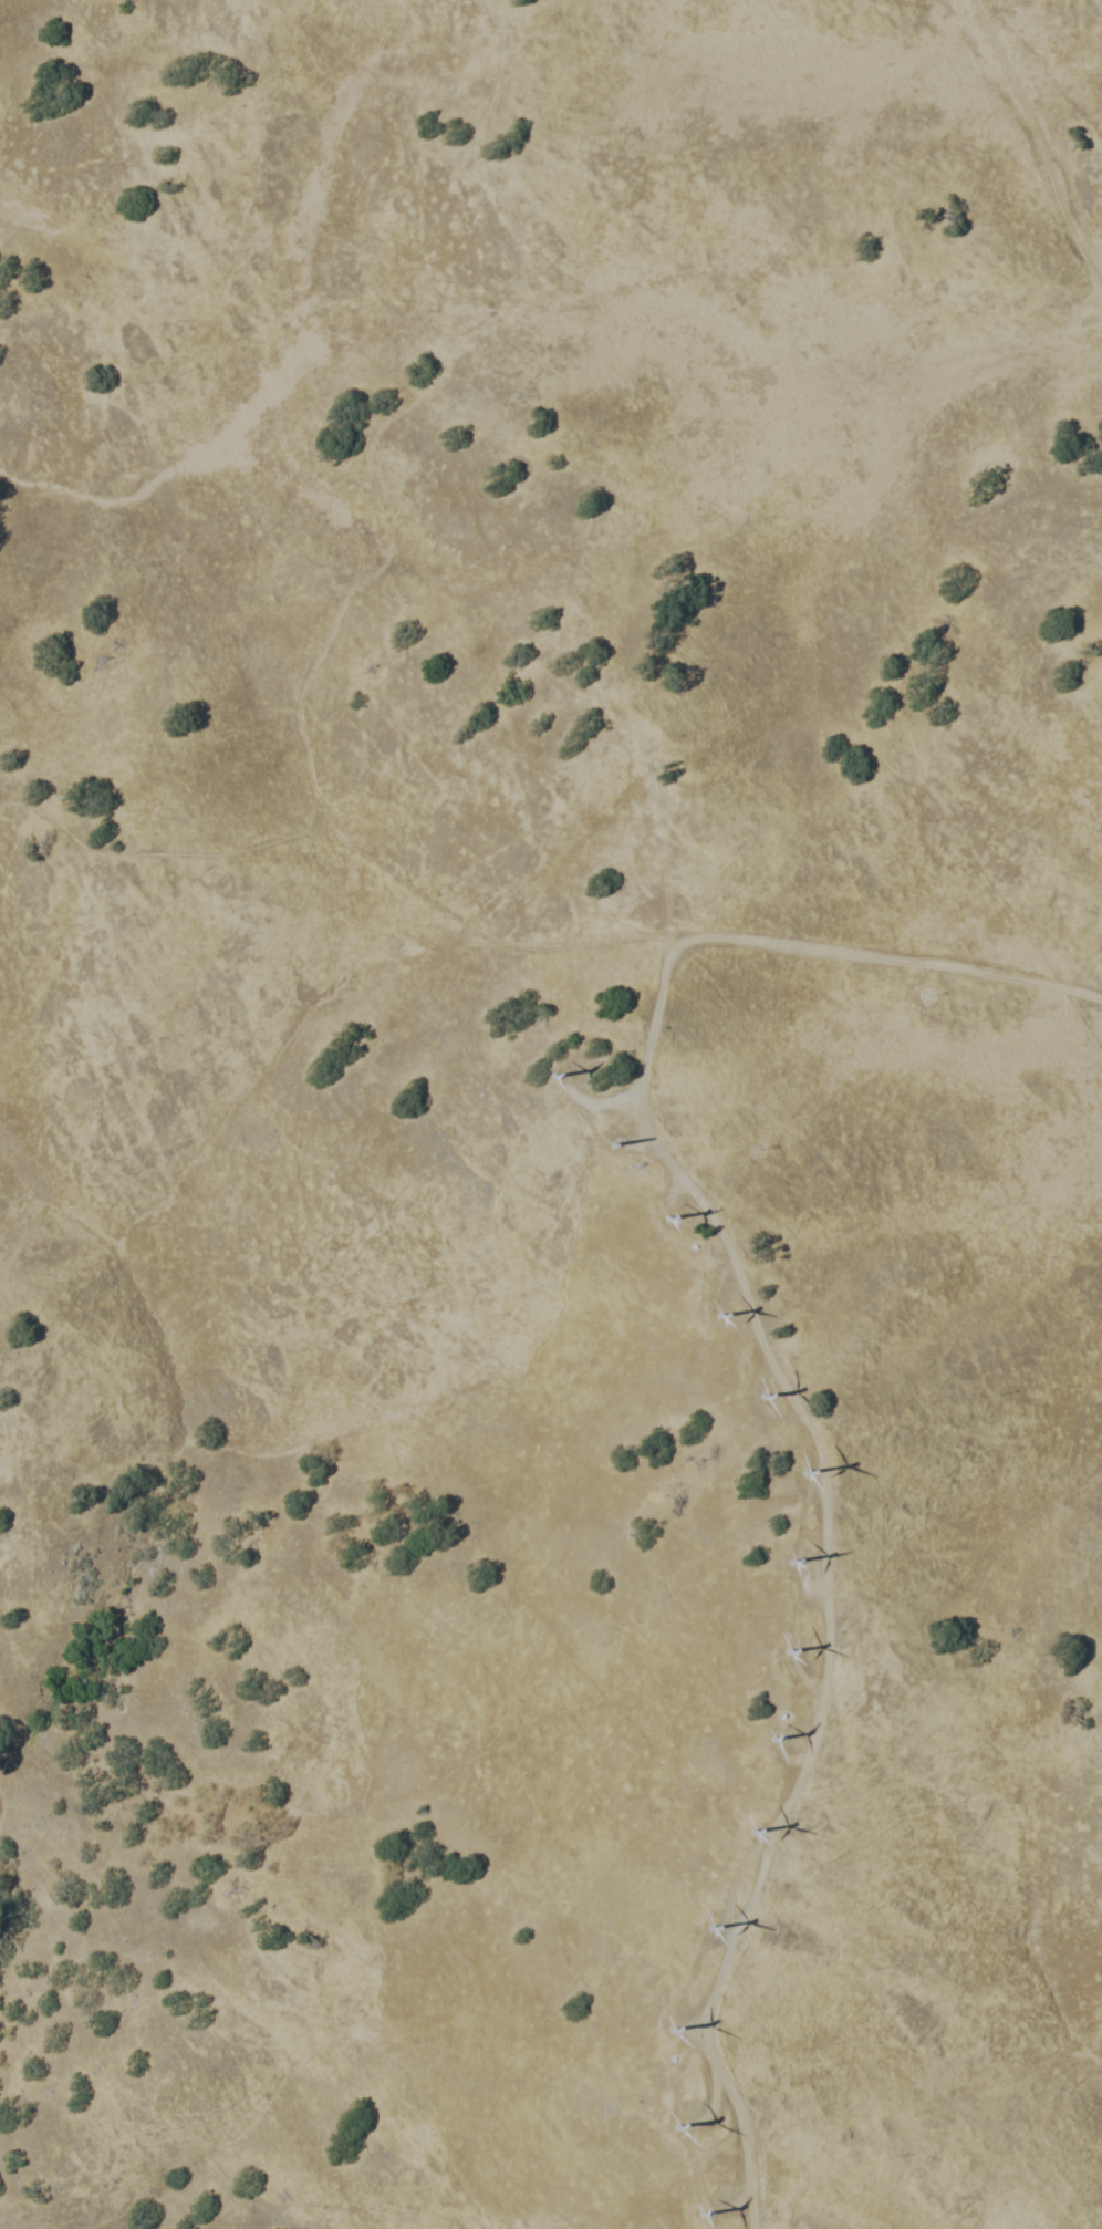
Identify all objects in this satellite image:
road: (1039, 139)
road: (351, 839)
road: (896, 957)
wind turbine: (551, 1071)
road: (596, 1102)
wind turbine: (614, 1144)
wind turbine: (667, 1219)
wind turbine: (720, 1314)
wind turbine: (757, 1398)
wind turbine: (786, 1466)
wind turbine: (777, 1557)
road: (804, 1569)
wind turbine: (770, 1648)
wind turbine: (768, 1734)
wind turbine: (741, 1832)
road: (726, 1877)
wind turbine: (701, 1918)
wind turbine: (658, 2028)
road: (700, 2096)
wind turbine: (666, 2126)
wind turbine: (690, 2209)

